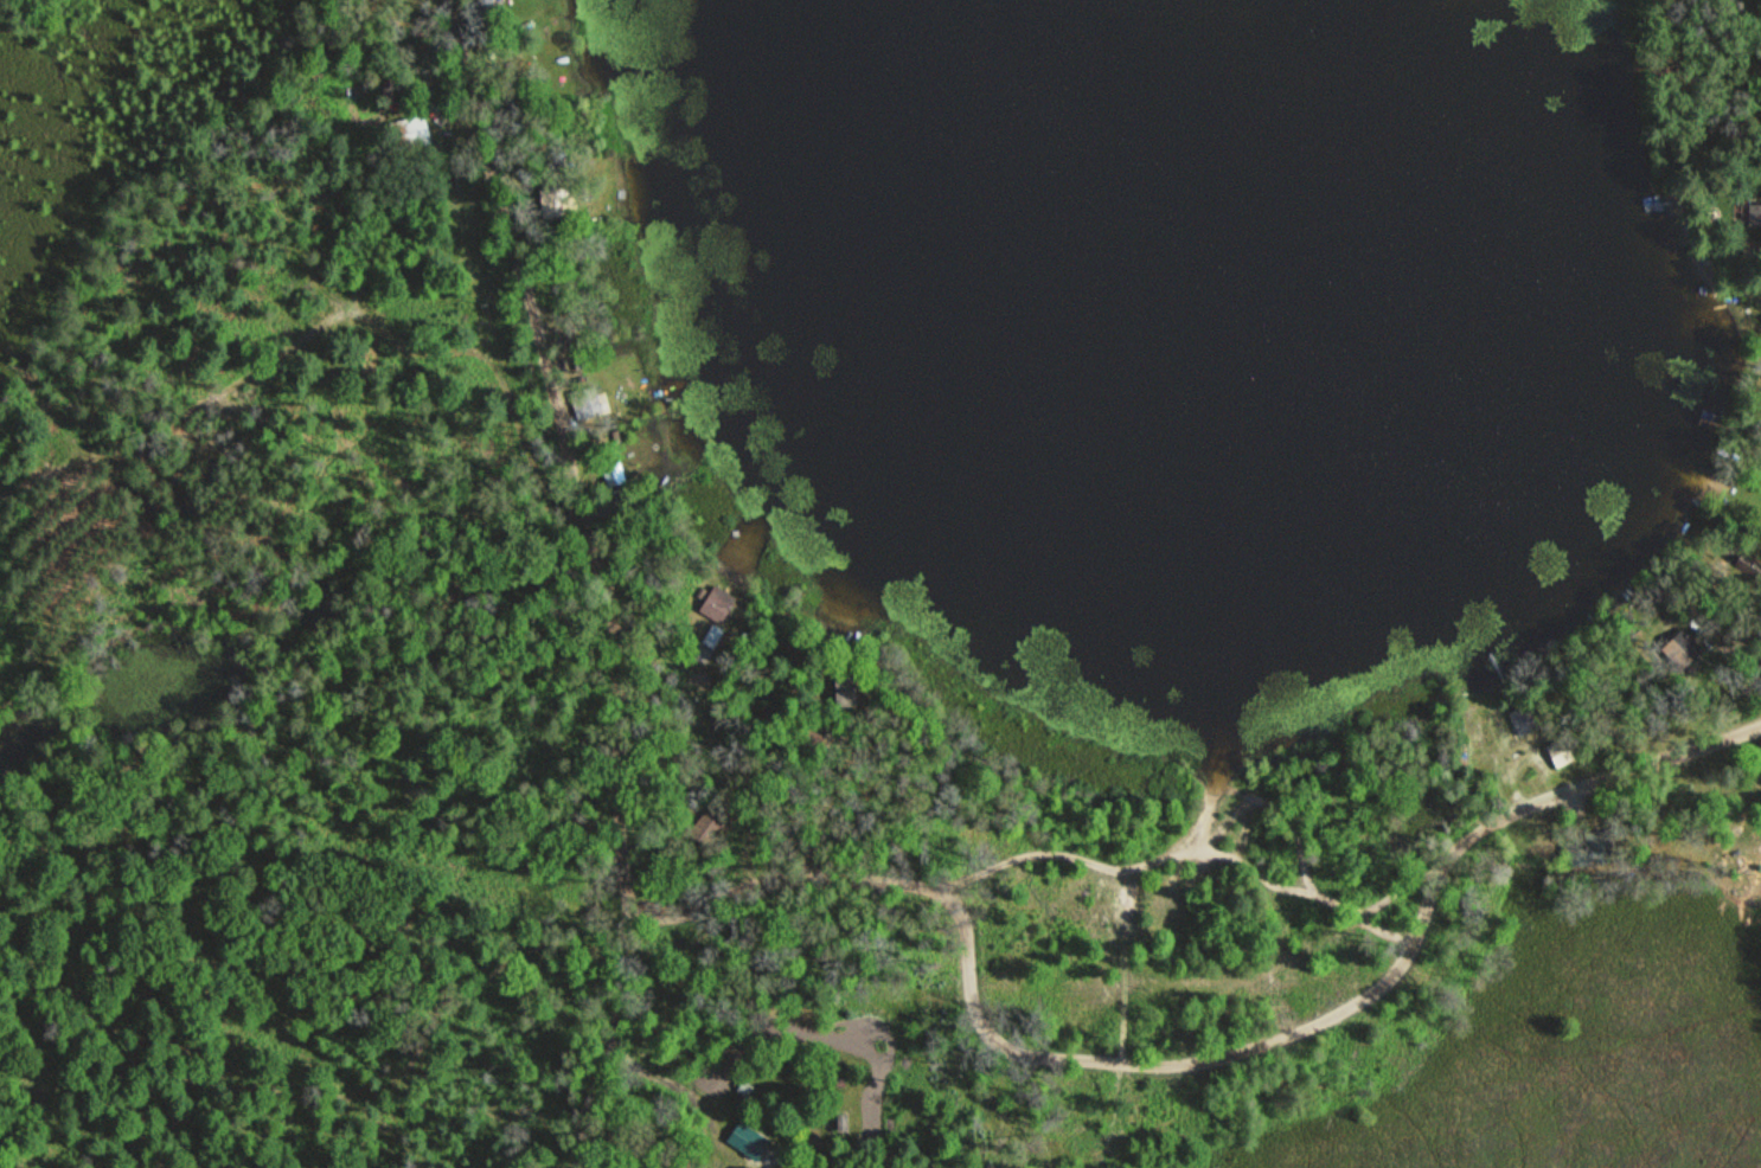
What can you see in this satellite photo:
building: (491, 9)
building: (411, 133)
building: (558, 203)
building: (1755, 216)
road: (263, 362)
building: (587, 403)
road: (565, 454)
building: (614, 471)
building: (1682, 648)
building: (845, 688)
building: (1525, 720)
building: (1561, 752)
road: (1218, 787)
road: (1264, 798)
building: (1593, 848)
road: (1193, 853)
road: (1415, 878)
road: (792, 880)
road: (1346, 1009)
road: (615, 1042)
road: (670, 1083)
building: (745, 1086)
building: (843, 1119)
building: (748, 1138)

